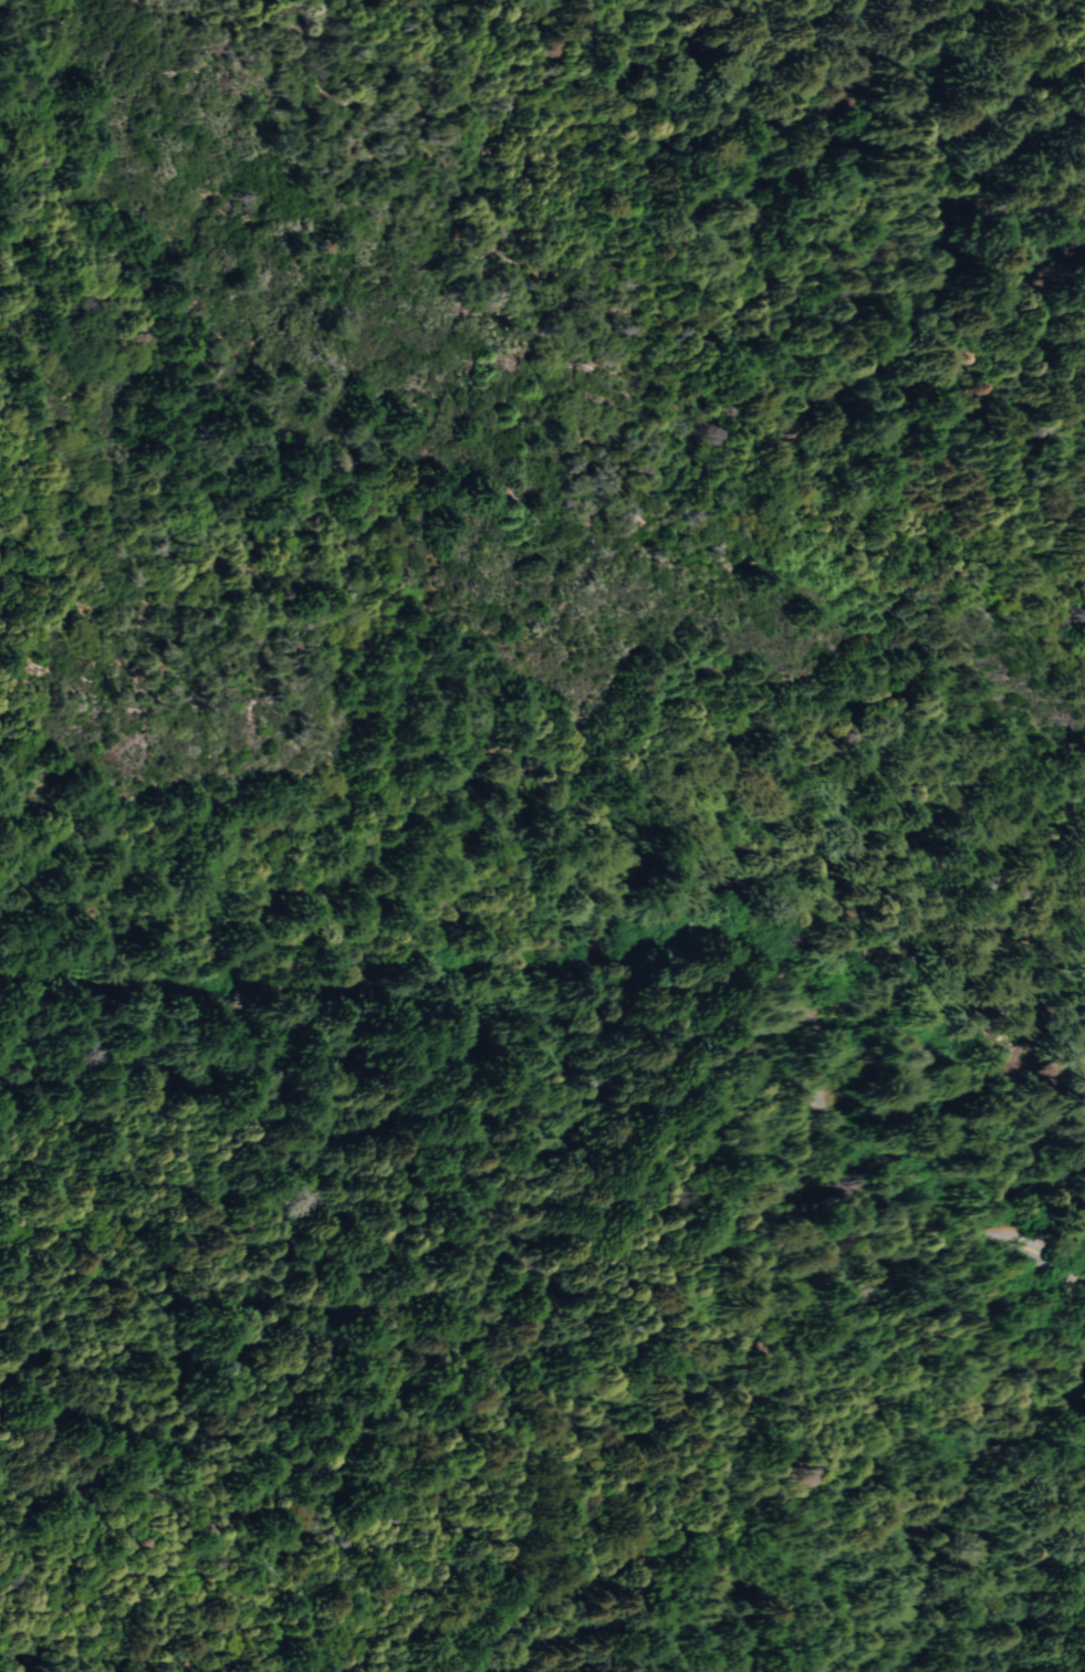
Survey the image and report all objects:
road: (623, 953)

